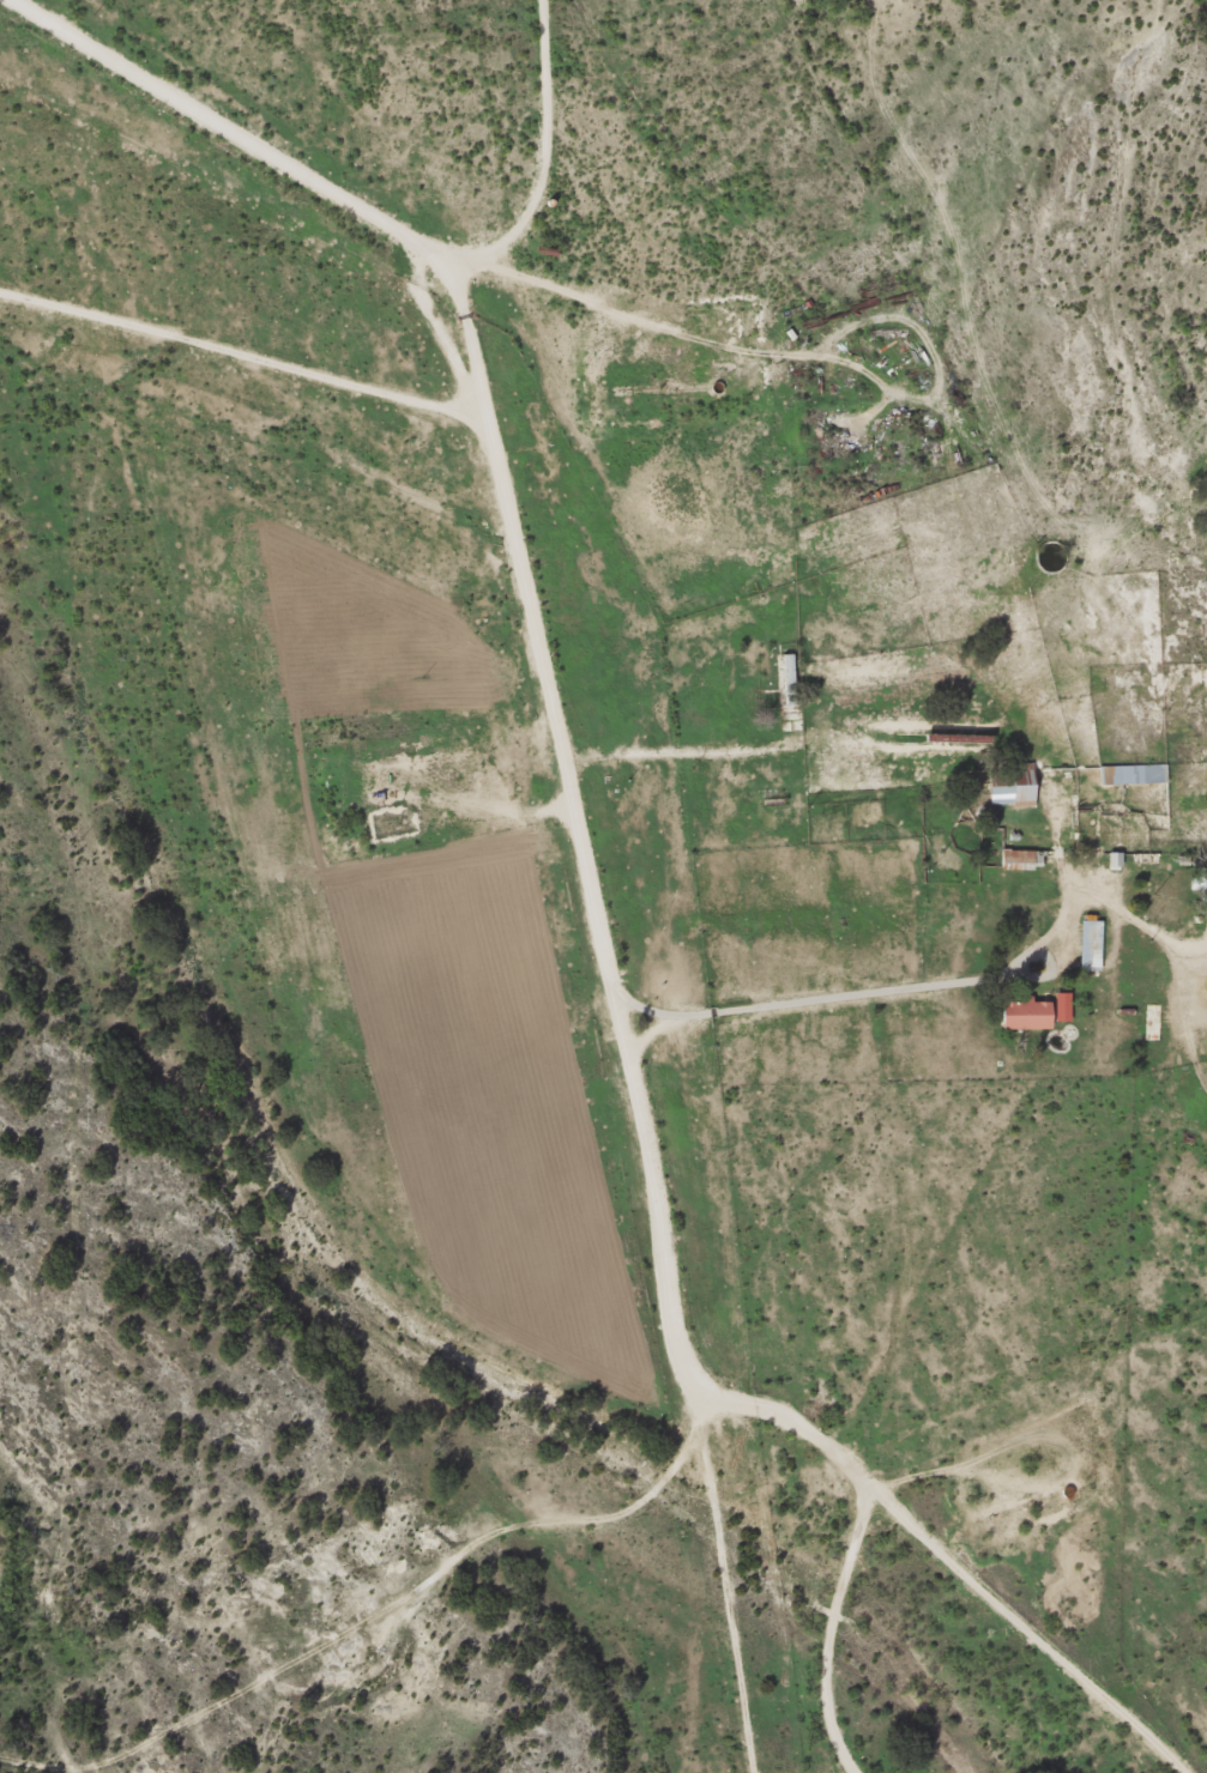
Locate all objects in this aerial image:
road: (575, 155)
road: (565, 320)
road: (1096, 379)
road: (249, 431)
building: (789, 679)
building: (1014, 787)
road: (1061, 827)
building: (1020, 858)
road: (587, 915)
building: (1093, 945)
building: (1030, 1013)
road: (893, 1234)
road: (597, 1508)
road: (737, 1578)
road: (1022, 1604)
road: (816, 1611)

